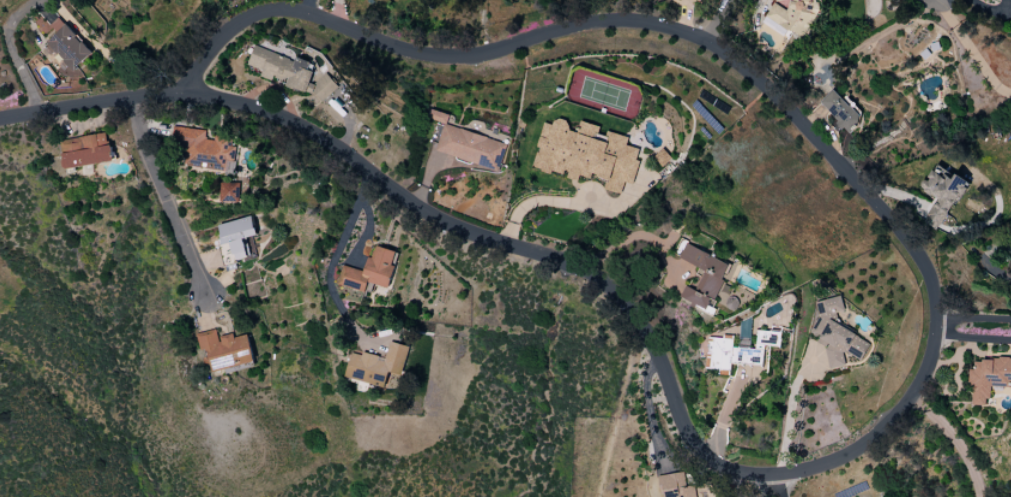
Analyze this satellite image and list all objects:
building: (696, 0)
road: (309, 6)
road: (338, 12)
building: (793, 14)
road: (718, 19)
building: (67, 45)
road: (14, 51)
road: (971, 51)
building: (292, 73)
road: (91, 102)
building: (842, 109)
building: (468, 145)
building: (205, 150)
building: (86, 151)
building: (586, 154)
building: (662, 158)
building: (230, 192)
road: (166, 196)
building: (941, 197)
road: (536, 202)
building: (237, 236)
road: (634, 238)
road: (333, 265)
building: (370, 271)
building: (706, 279)
road: (974, 317)
building: (836, 334)
road: (934, 336)
road: (972, 339)
building: (226, 349)
building: (739, 351)
building: (377, 366)
building: (988, 378)
road: (790, 408)
road: (954, 441)
road: (777, 484)
road: (755, 485)
building: (676, 486)

